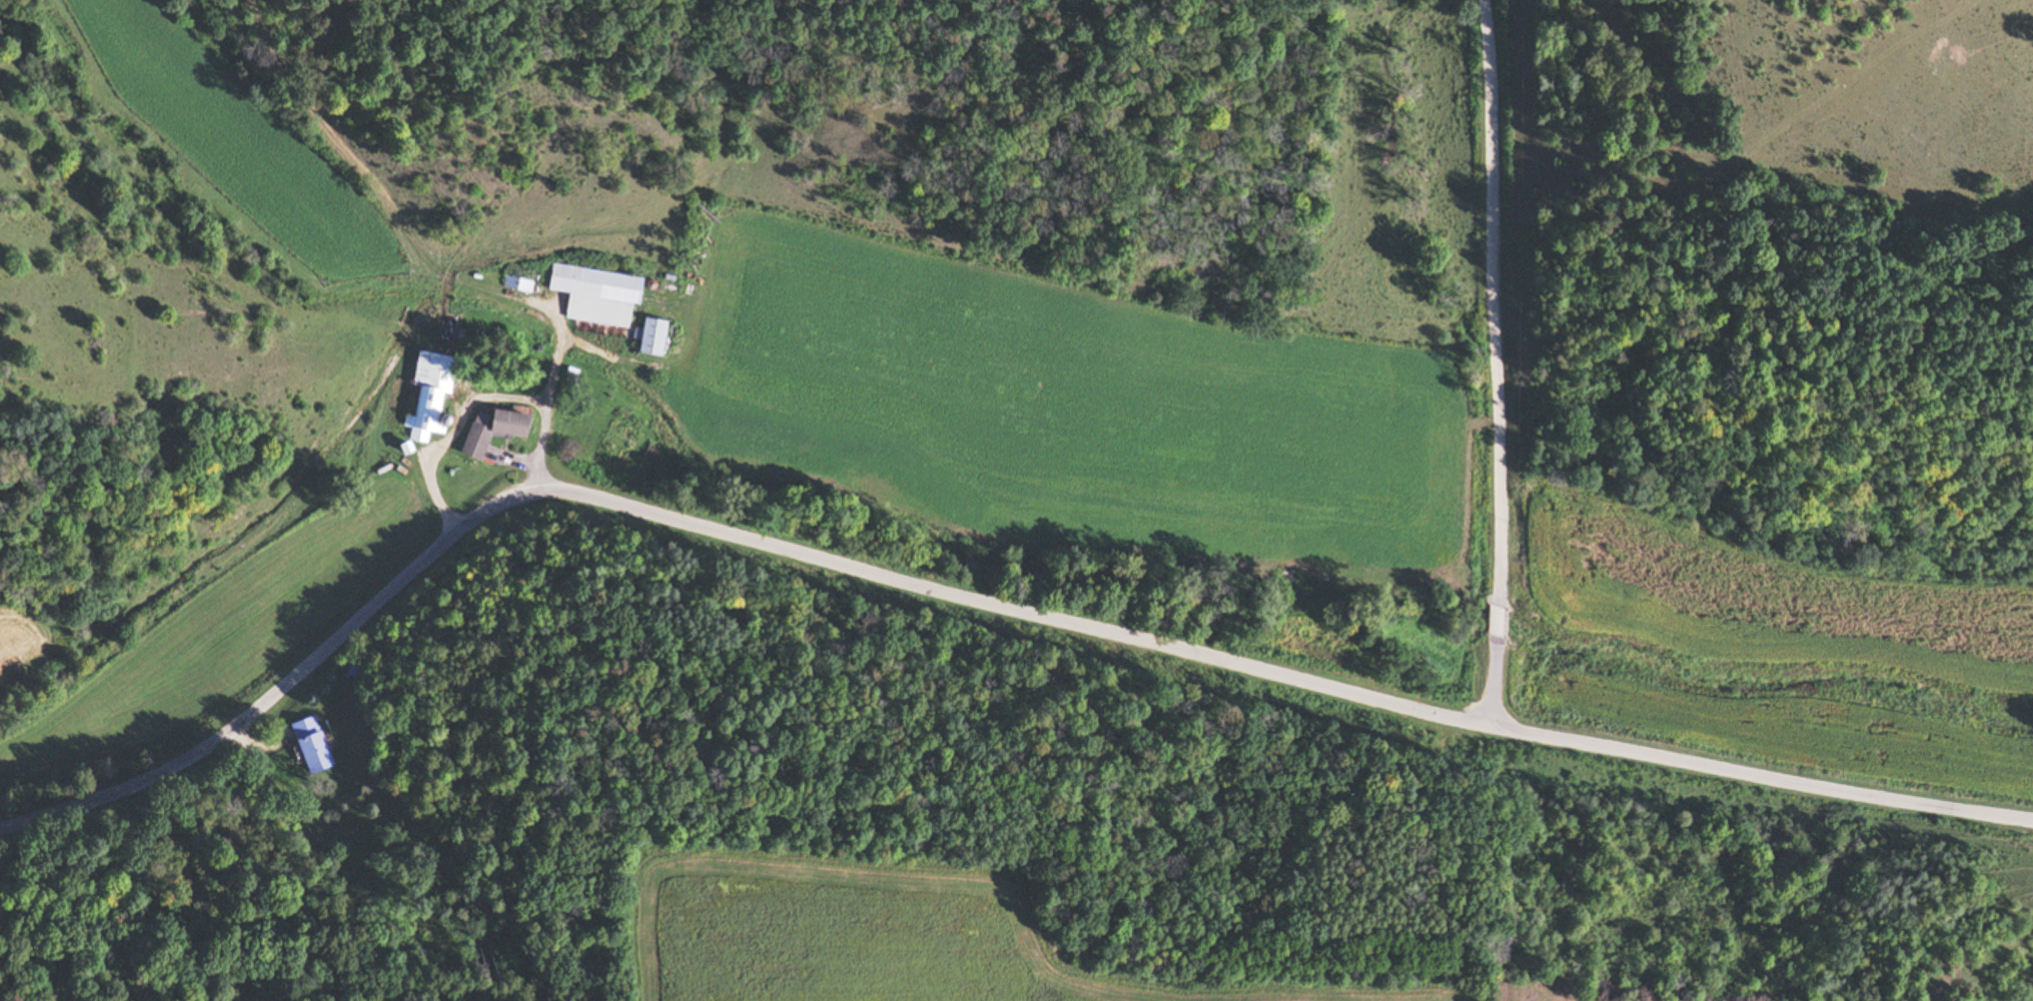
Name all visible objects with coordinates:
road: (439, 267)
building: (593, 294)
building: (648, 337)
road: (1492, 362)
building: (427, 395)
road: (478, 397)
crop: (1057, 407)
building: (490, 431)
road: (970, 591)
crop: (1763, 602)
crop: (15, 649)
building: (312, 745)
crop: (875, 937)

